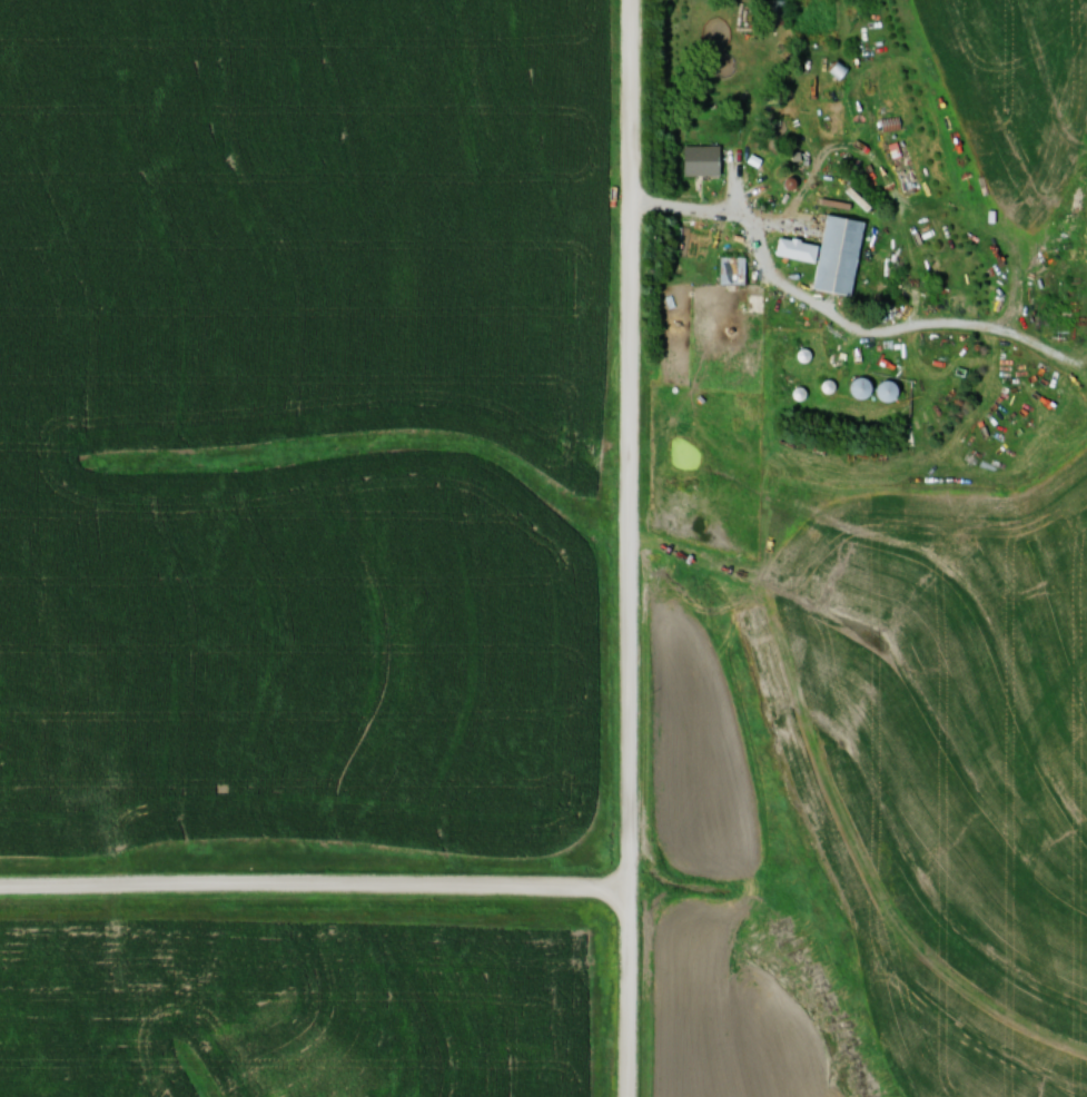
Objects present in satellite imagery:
building: (704, 159)
road: (725, 216)
building: (841, 254)
building: (731, 280)
building: (771, 369)
building: (863, 388)
building: (891, 392)
road: (632, 547)
road: (316, 890)

